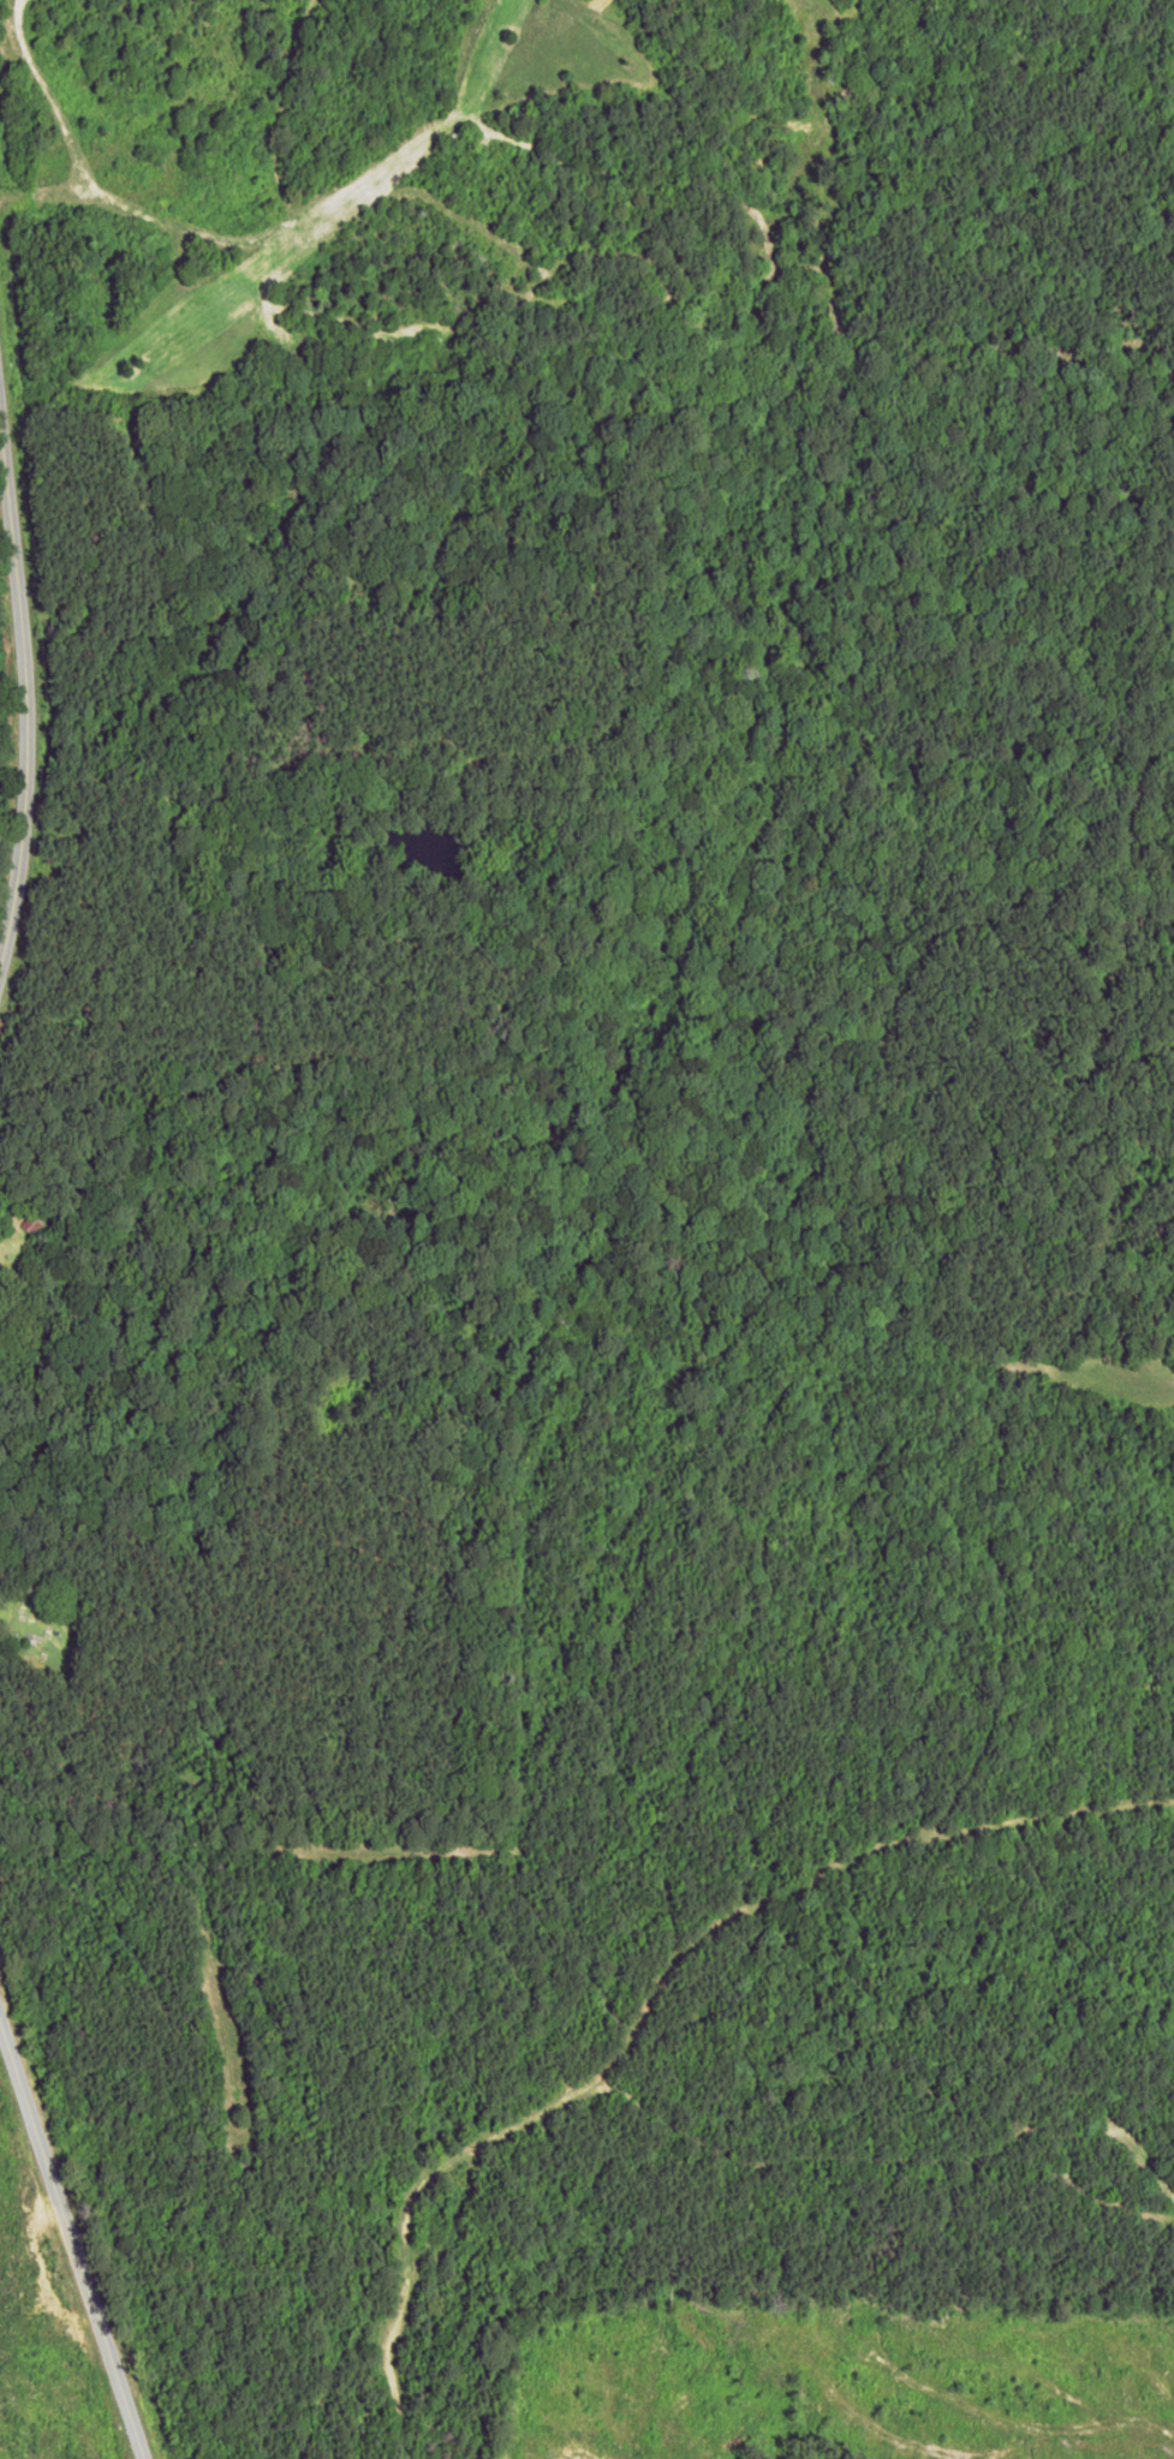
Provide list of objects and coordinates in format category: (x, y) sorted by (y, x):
road: (5, 834)
road: (68, 2245)

